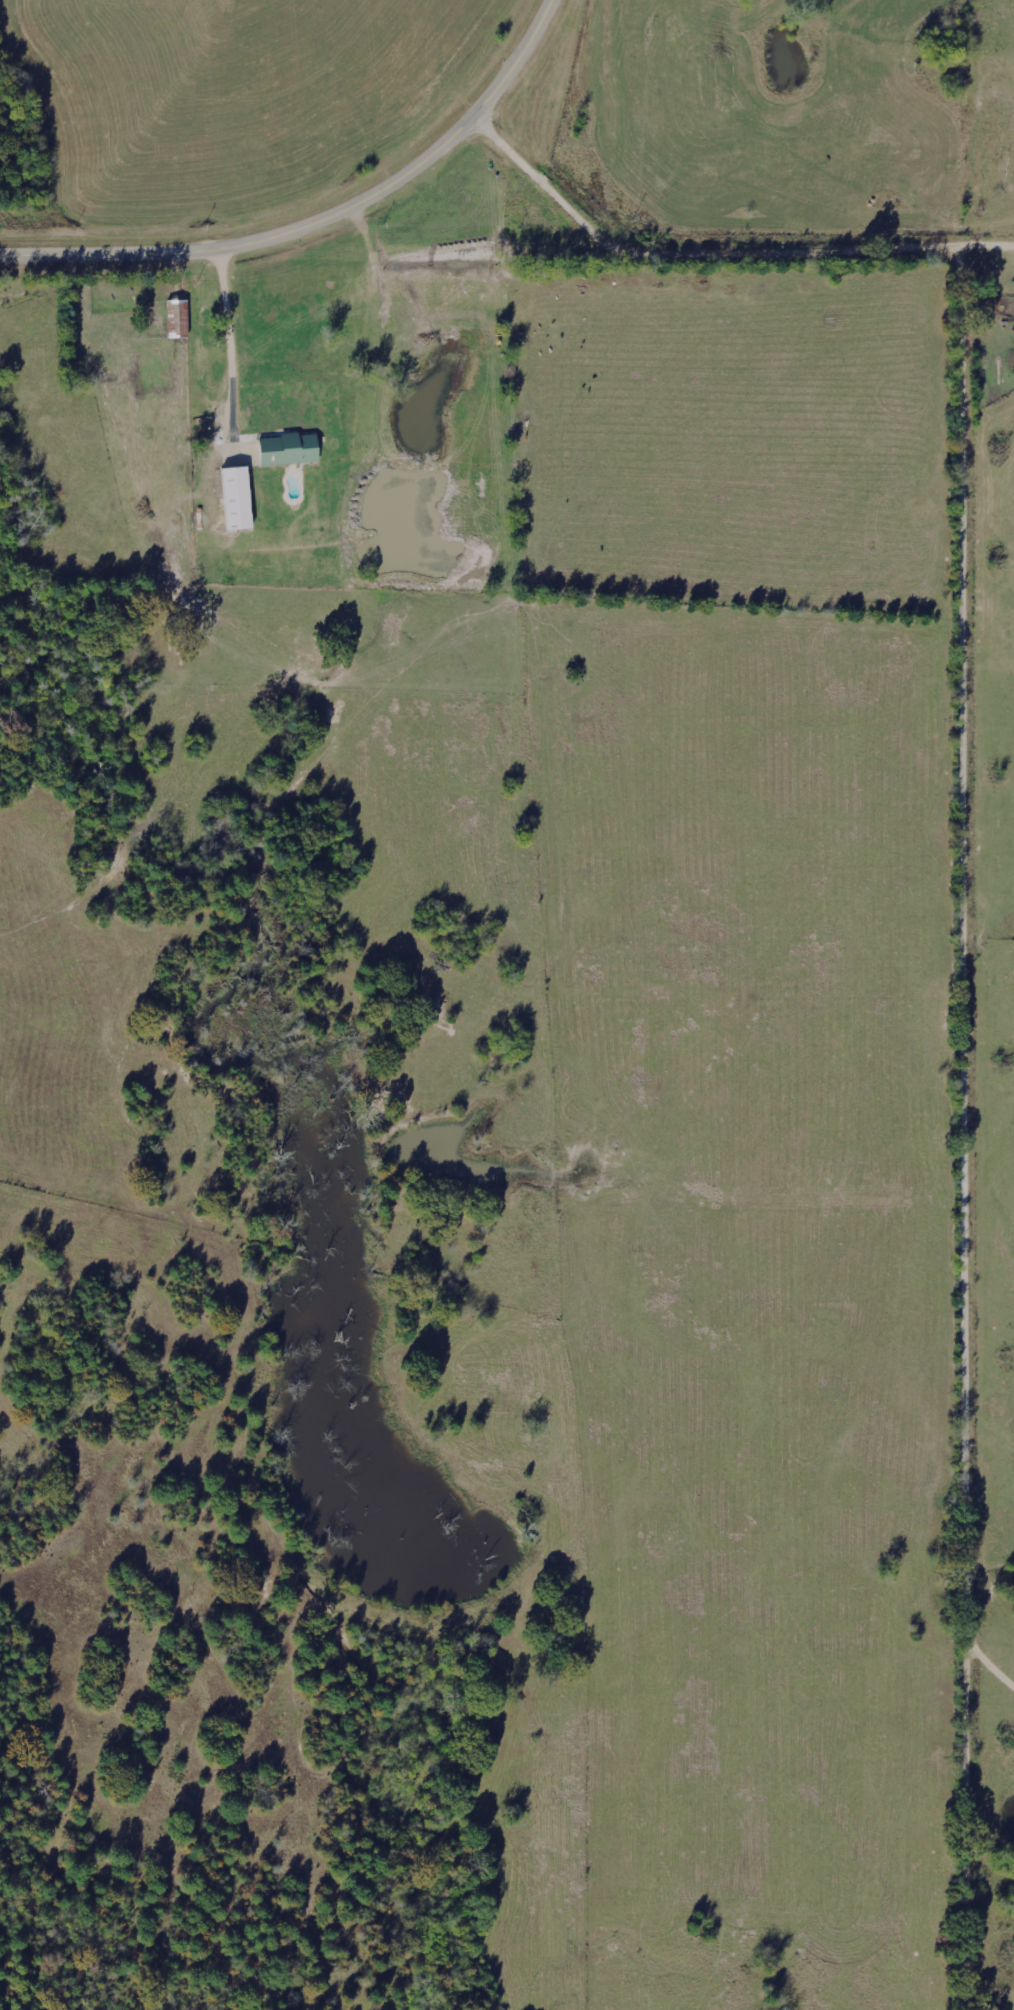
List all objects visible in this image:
road: (562, 146)
road: (321, 221)
building: (179, 319)
building: (291, 450)
building: (239, 499)
road: (974, 953)

